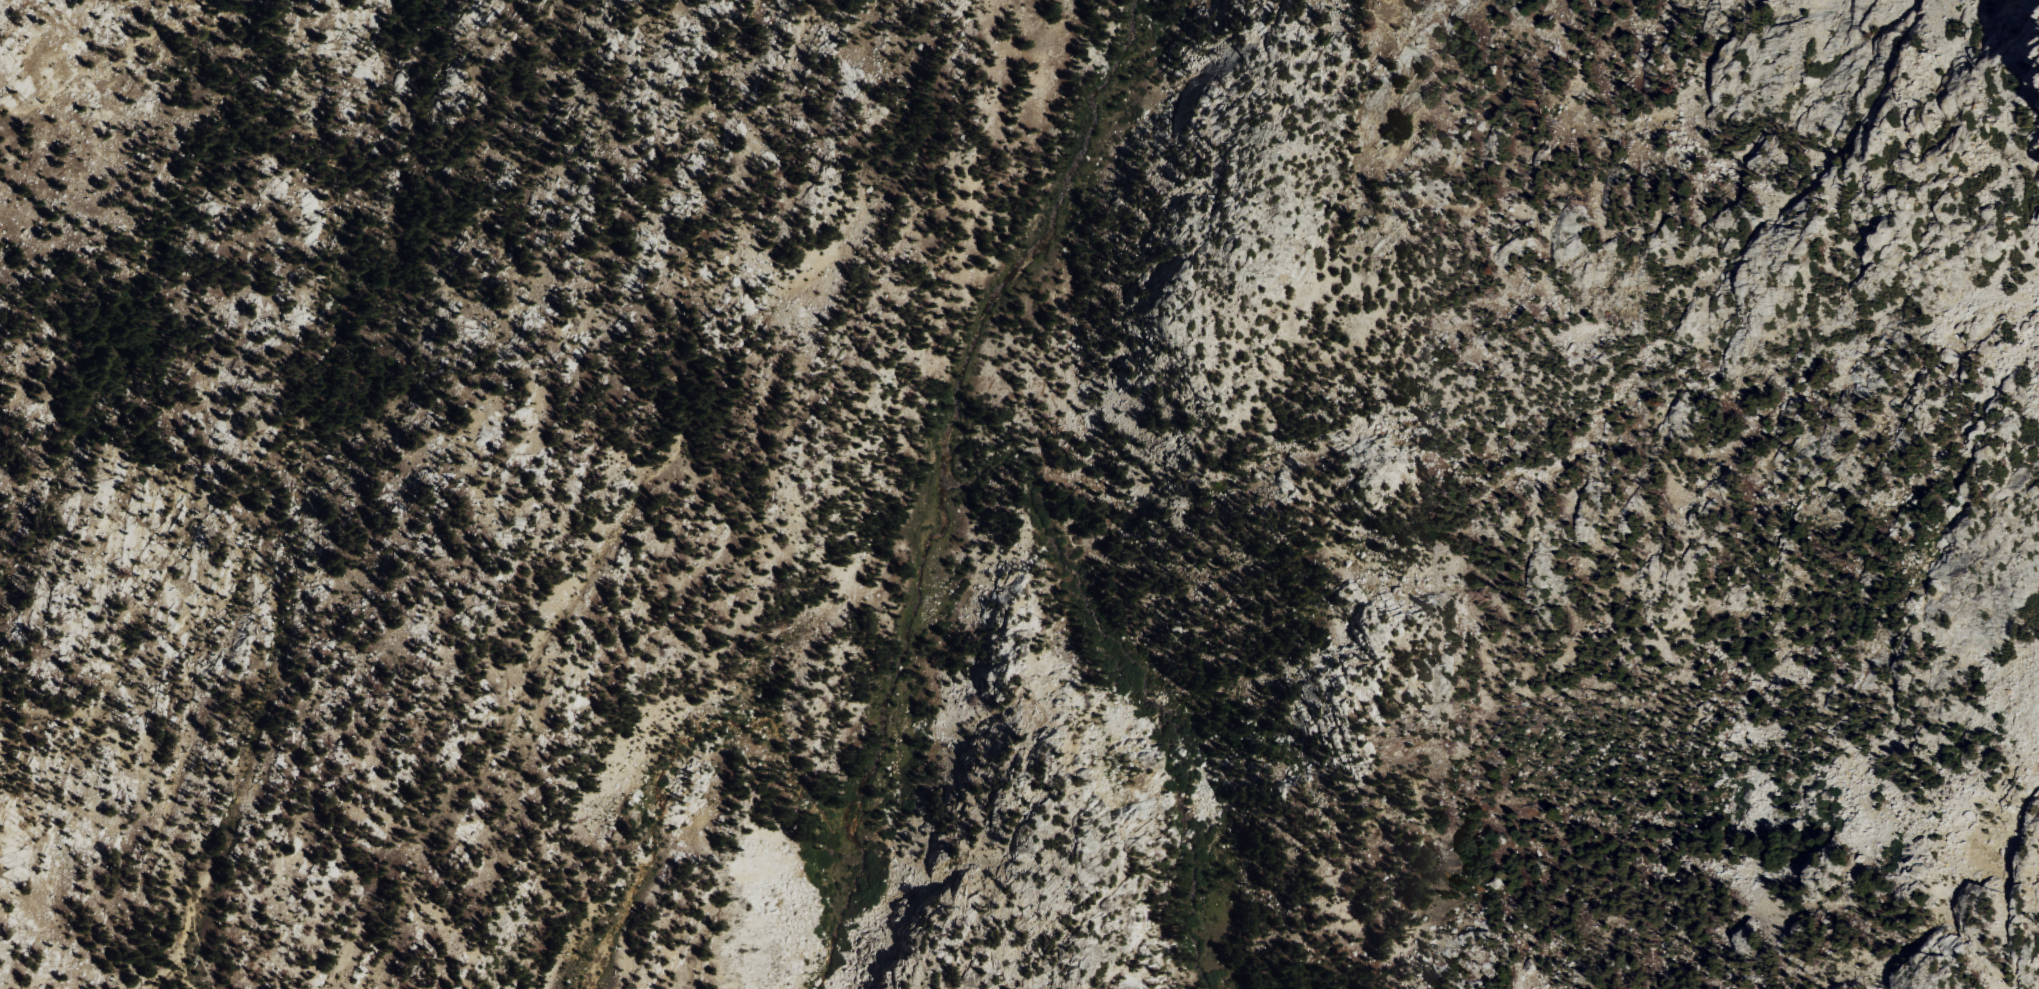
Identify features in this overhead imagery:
road: (123, 62)
road: (11, 397)
road: (164, 792)

